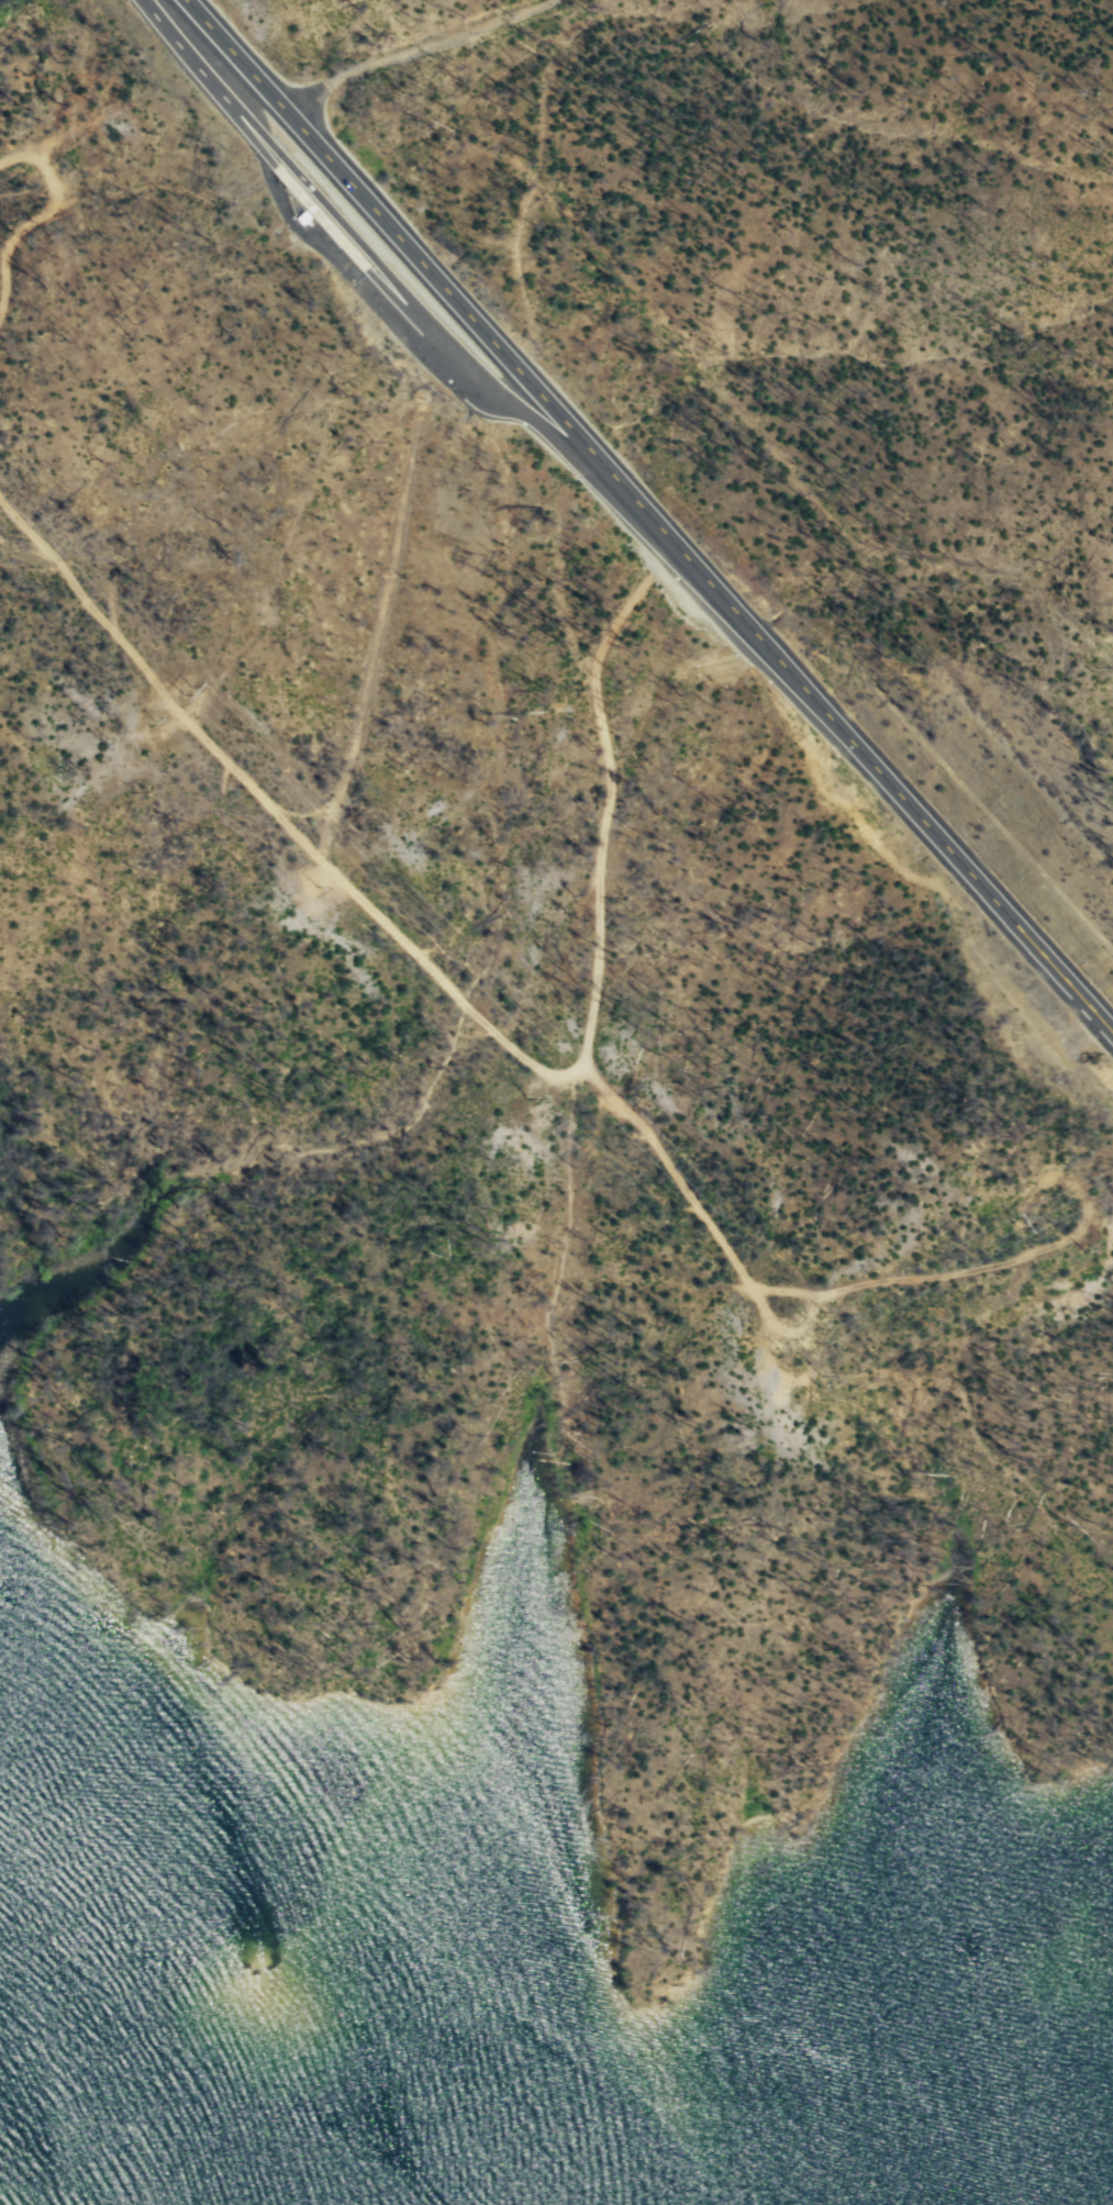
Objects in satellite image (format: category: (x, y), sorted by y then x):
road: (419, 48)
road: (652, 512)
power tower: (189, 690)
road: (601, 981)
power tower: (987, 1221)
power tower: (802, 1327)
power tower: (805, 1385)

